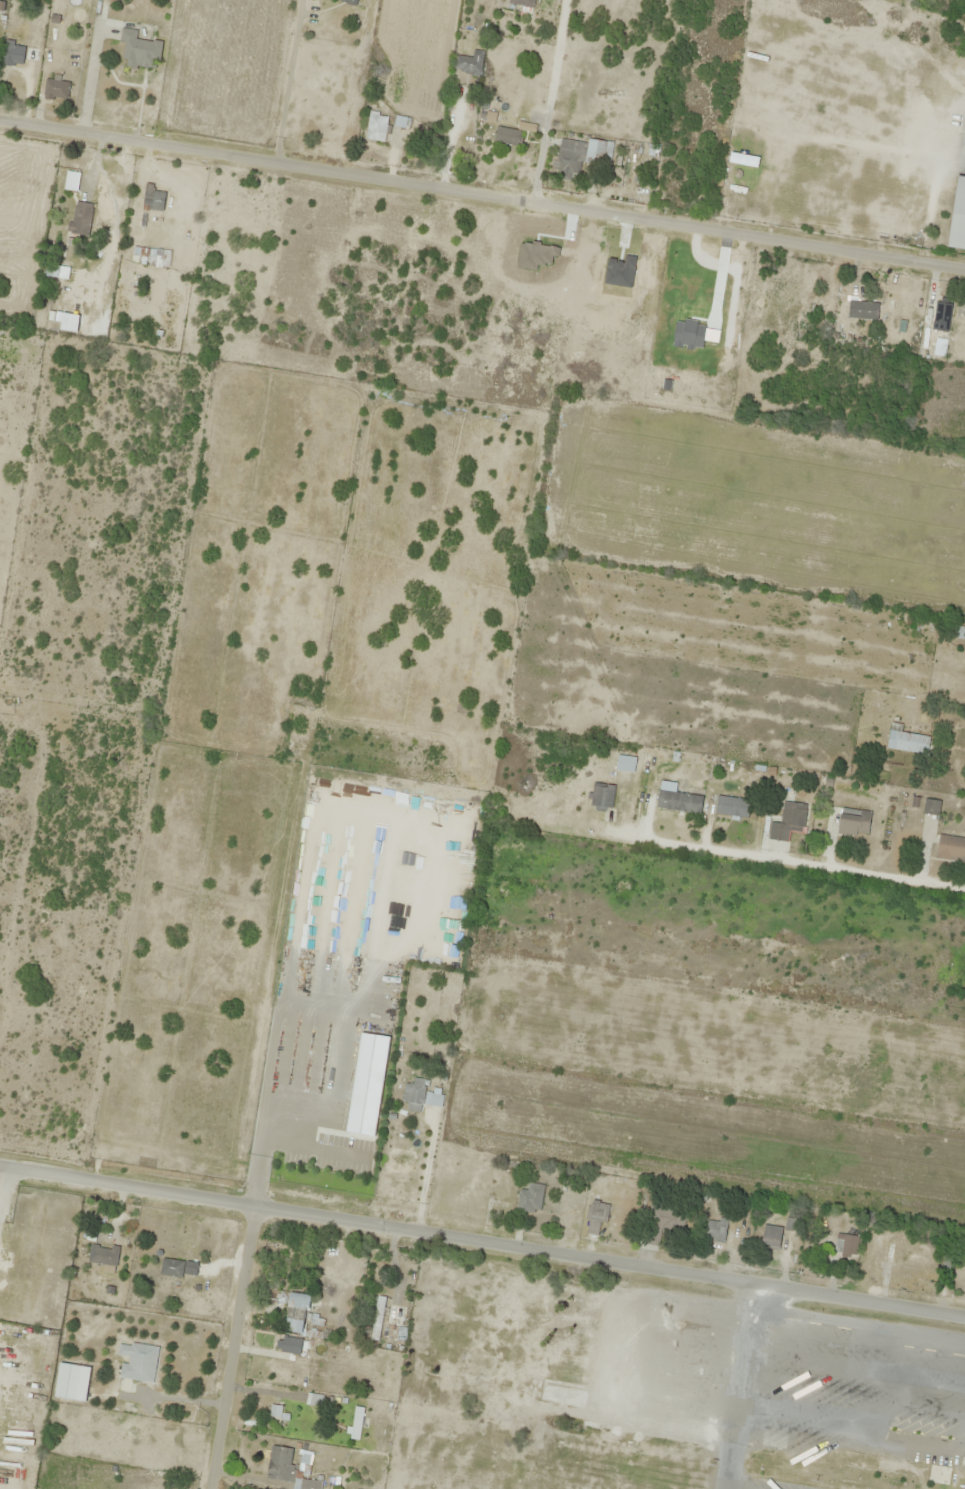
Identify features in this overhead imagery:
building: (344, 0)
building: (523, 3)
building: (139, 51)
building: (13, 54)
building: (469, 64)
building: (56, 89)
building: (376, 127)
building: (507, 136)
building: (598, 152)
building: (569, 158)
building: (71, 181)
road: (482, 194)
building: (153, 199)
building: (80, 218)
building: (958, 218)
building: (139, 255)
building: (863, 310)
building: (941, 316)
building: (958, 632)
building: (908, 743)
building: (625, 764)
building: (602, 796)
building: (732, 807)
building: (931, 807)
building: (787, 822)
building: (853, 822)
building: (951, 848)
building: (417, 1096)
building: (531, 1199)
building: (596, 1217)
building: (664, 1221)
building: (714, 1231)
building: (771, 1238)
road: (482, 1241)
building: (845, 1245)
building: (899, 1253)
building: (103, 1255)
building: (178, 1268)
building: (296, 1314)
building: (378, 1319)
building: (291, 1346)
road: (229, 1347)
building: (138, 1362)
building: (72, 1382)
building: (314, 1400)
building: (356, 1424)
building: (285, 1469)
building: (901, 1470)

